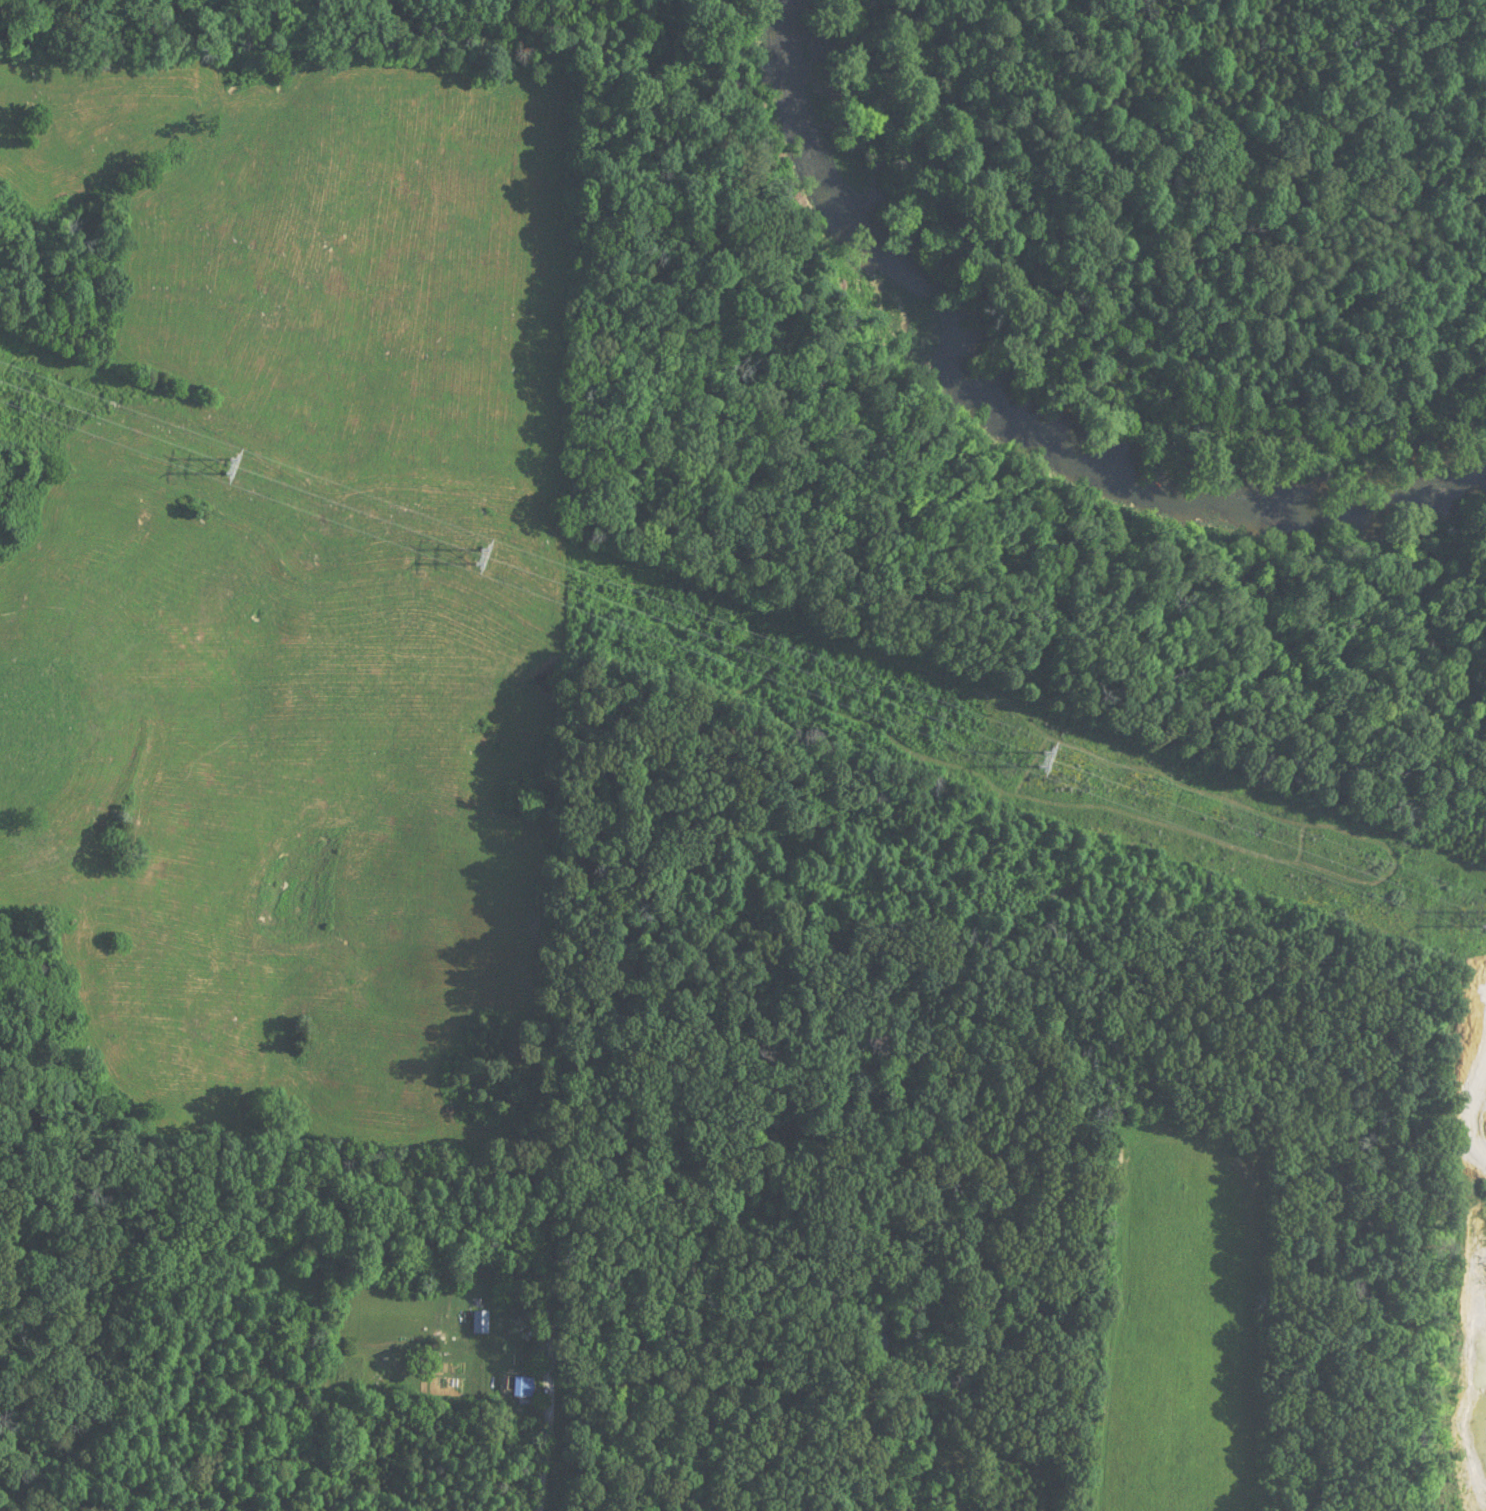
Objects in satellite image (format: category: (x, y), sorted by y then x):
river: (1024, 416)
power tower: (225, 467)
power tower: (475, 557)
power tower: (1039, 761)
power tower: (1479, 919)
building: (477, 1321)
building: (517, 1387)
road: (549, 1409)

